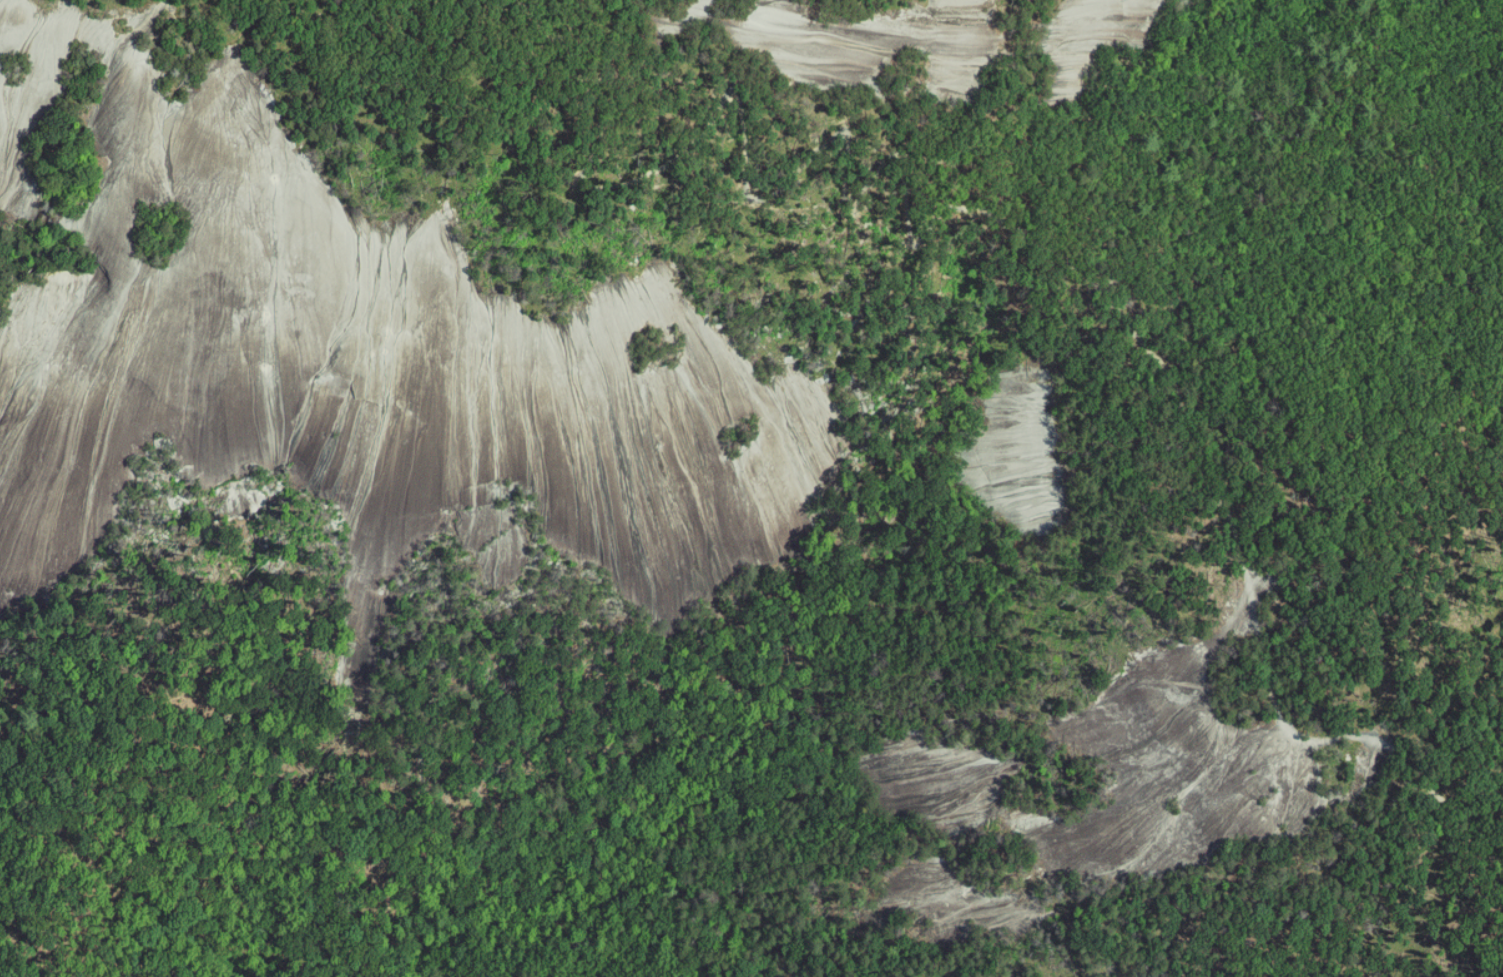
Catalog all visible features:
road: (944, 207)

